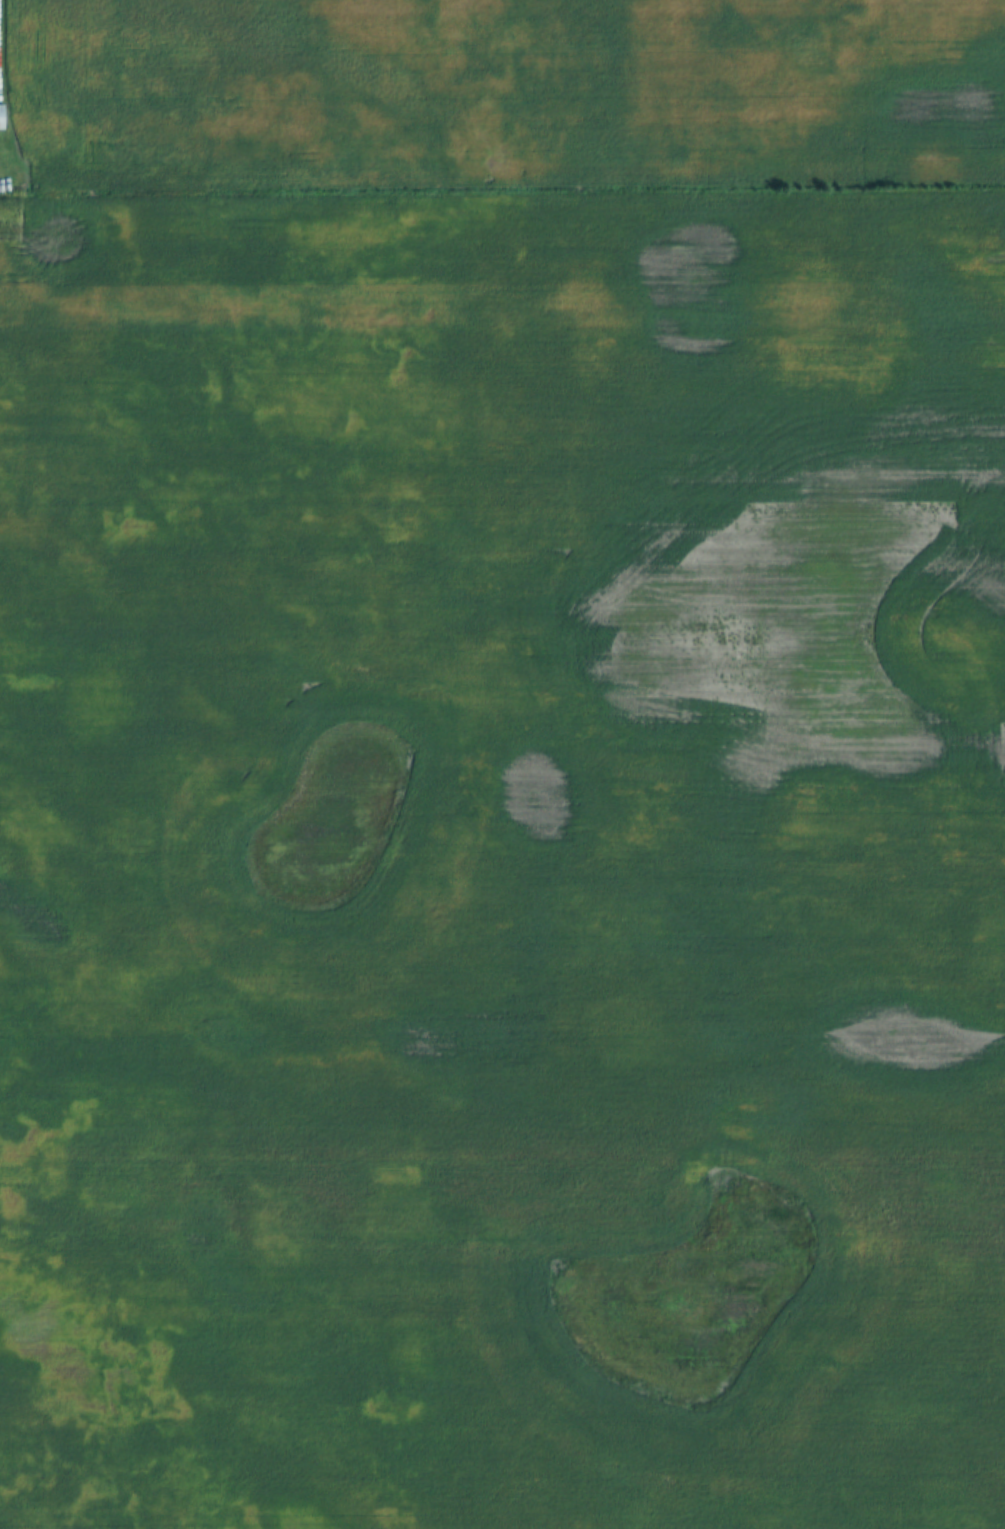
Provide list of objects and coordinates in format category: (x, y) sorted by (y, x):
building: (2, 116)

